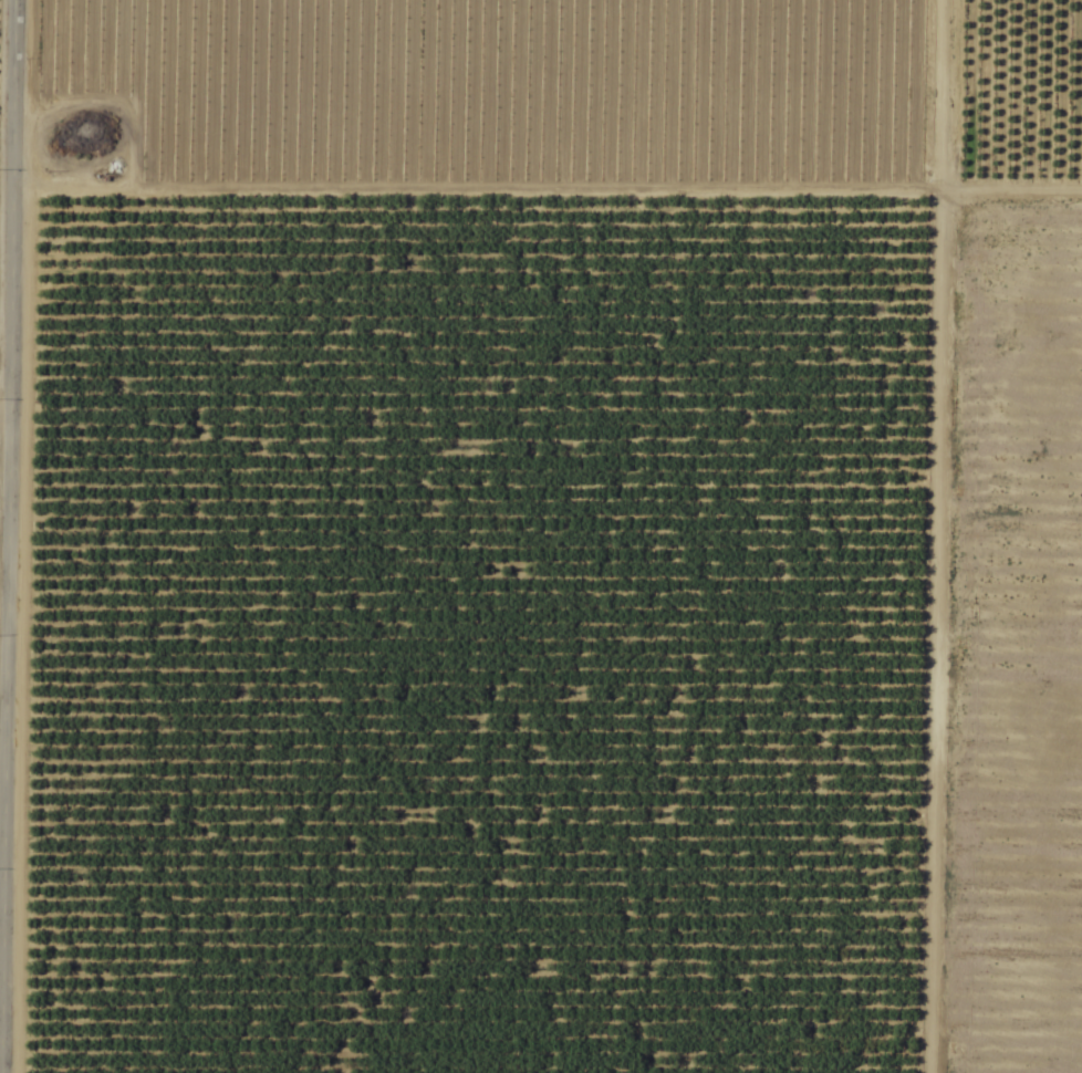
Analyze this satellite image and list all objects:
building: (110, 222)
road: (6, 536)
crop: (541, 536)

